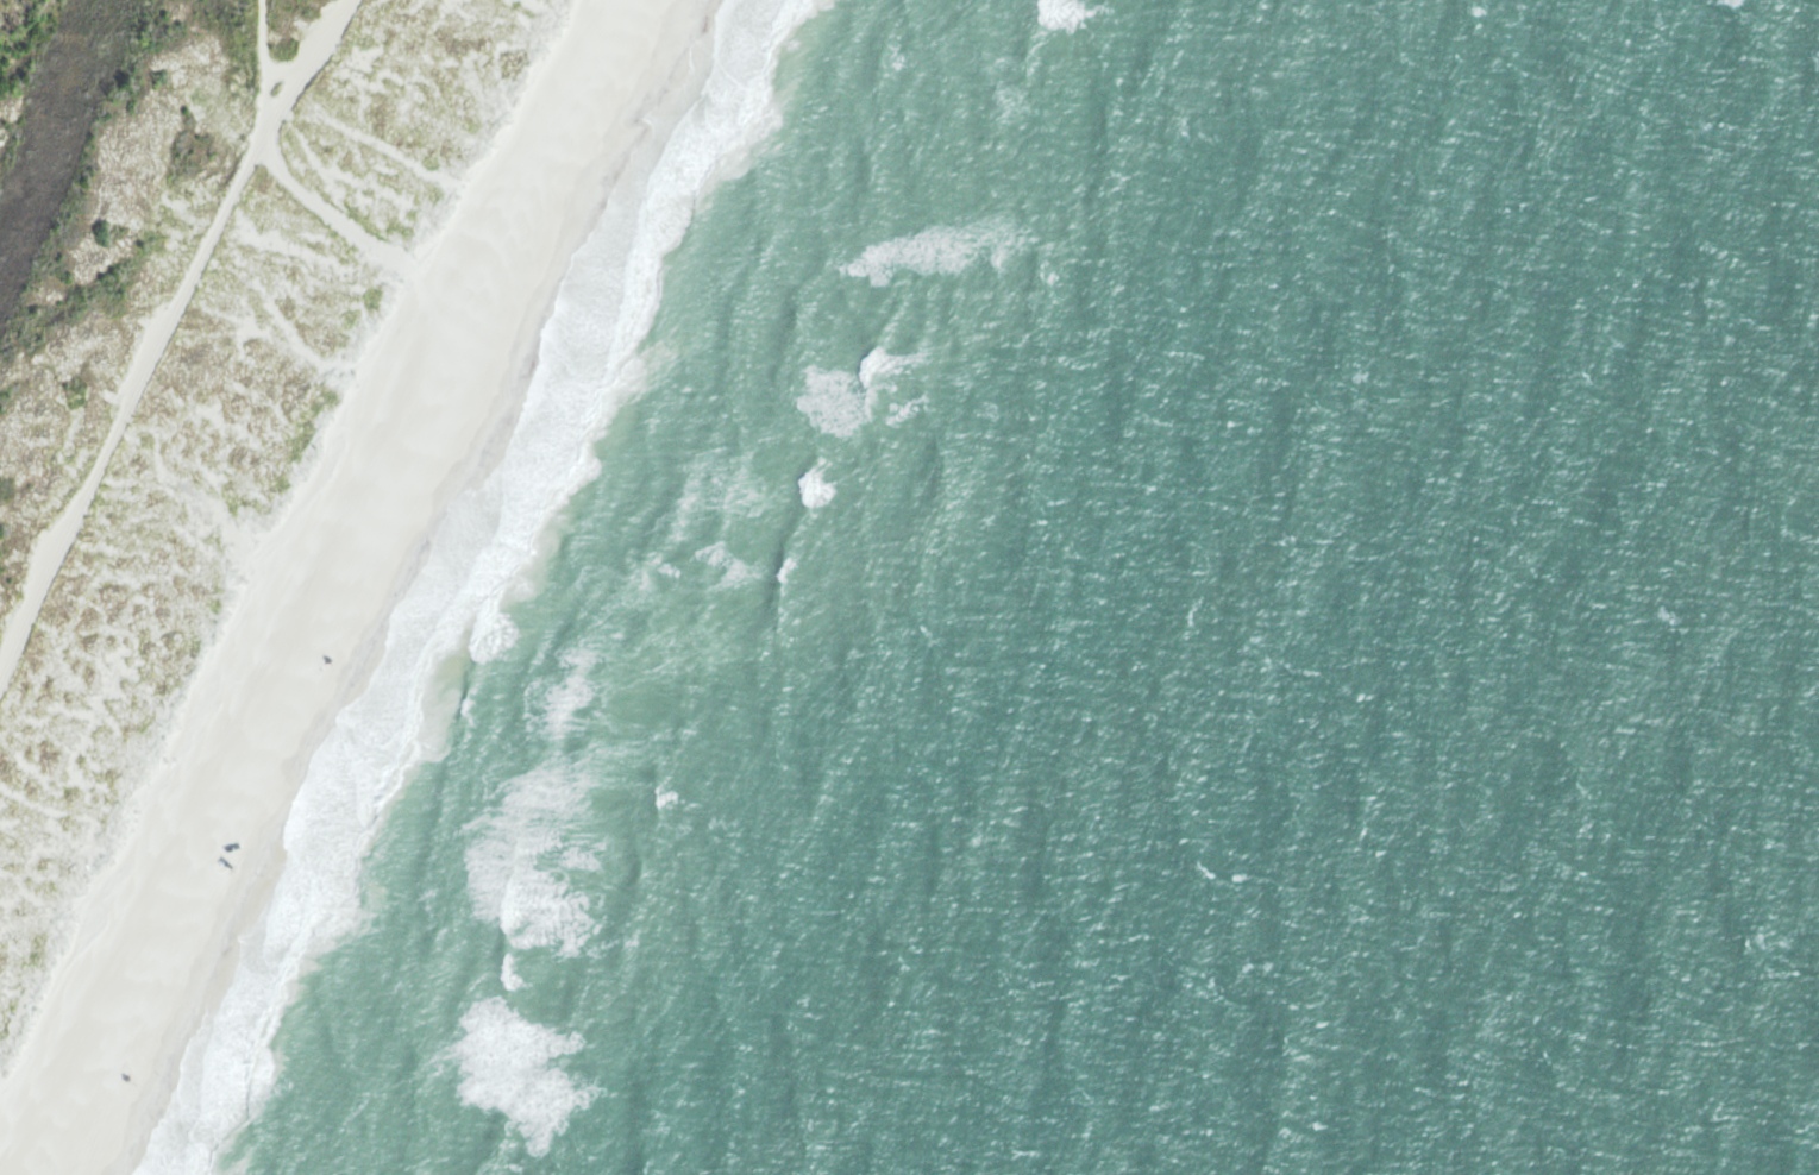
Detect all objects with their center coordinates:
road: (264, 73)
road: (341, 219)
road: (163, 334)

